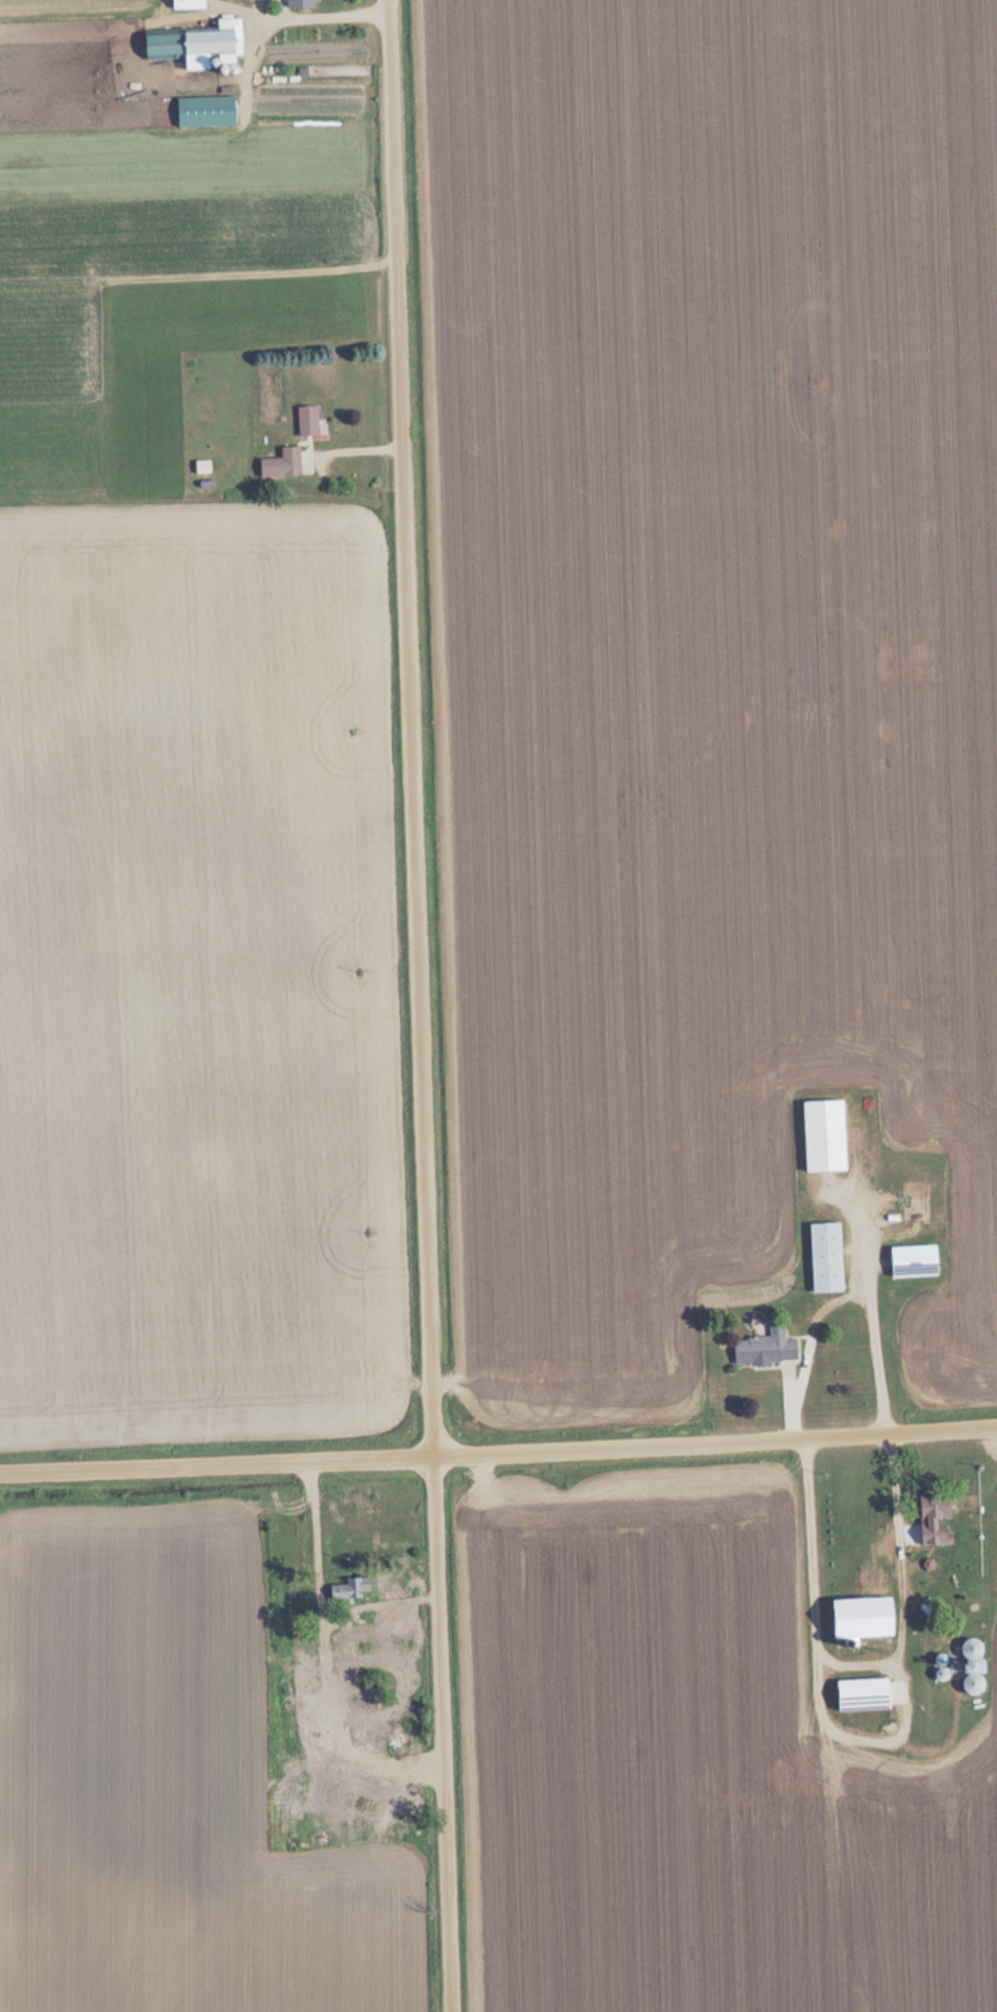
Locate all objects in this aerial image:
building: (299, 3)
building: (189, 4)
building: (213, 44)
building: (206, 111)
building: (307, 420)
building: (282, 463)
building: (202, 466)
road: (419, 1006)
building: (824, 1136)
building: (918, 1202)
building: (826, 1257)
building: (914, 1261)
building: (766, 1348)
road: (498, 1456)
building: (934, 1518)
building: (350, 1590)
building: (864, 1616)
building: (972, 1683)
building: (864, 1693)

